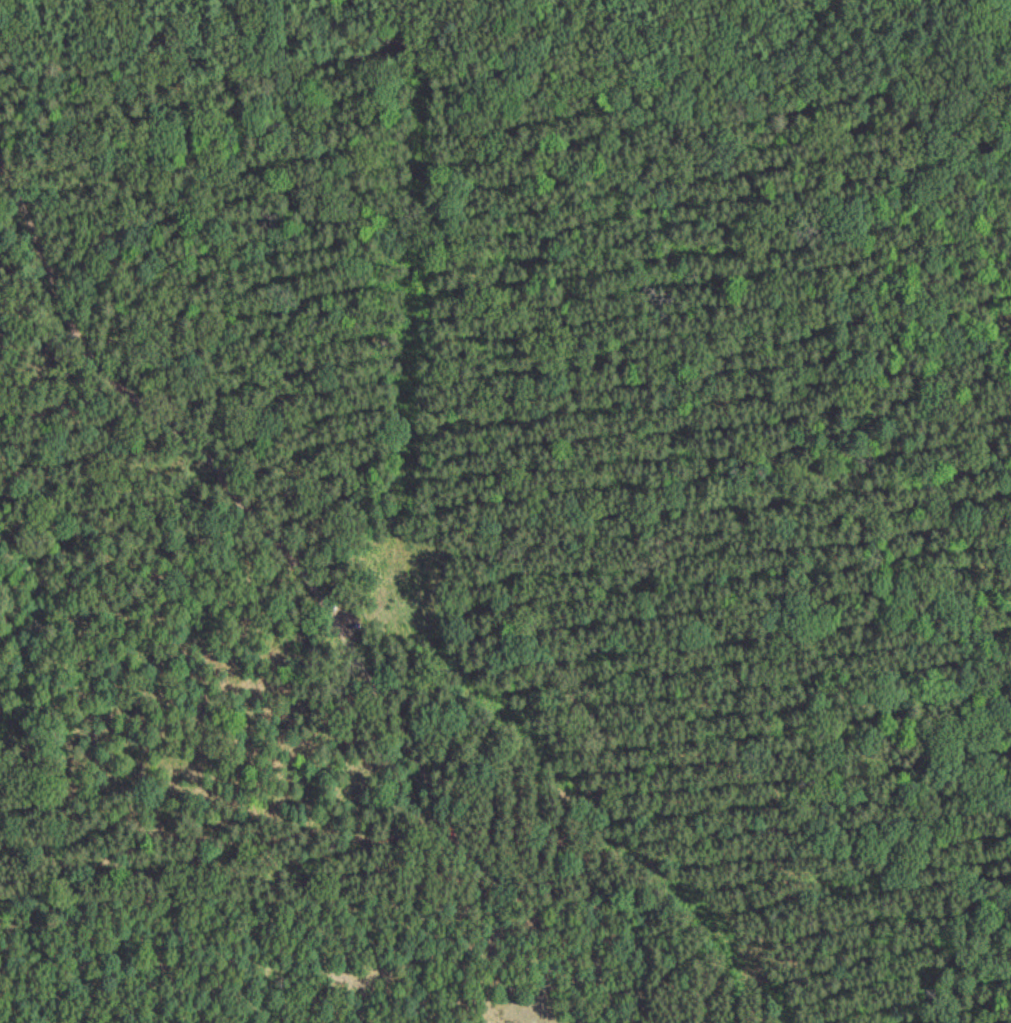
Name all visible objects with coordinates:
road: (323, 607)

